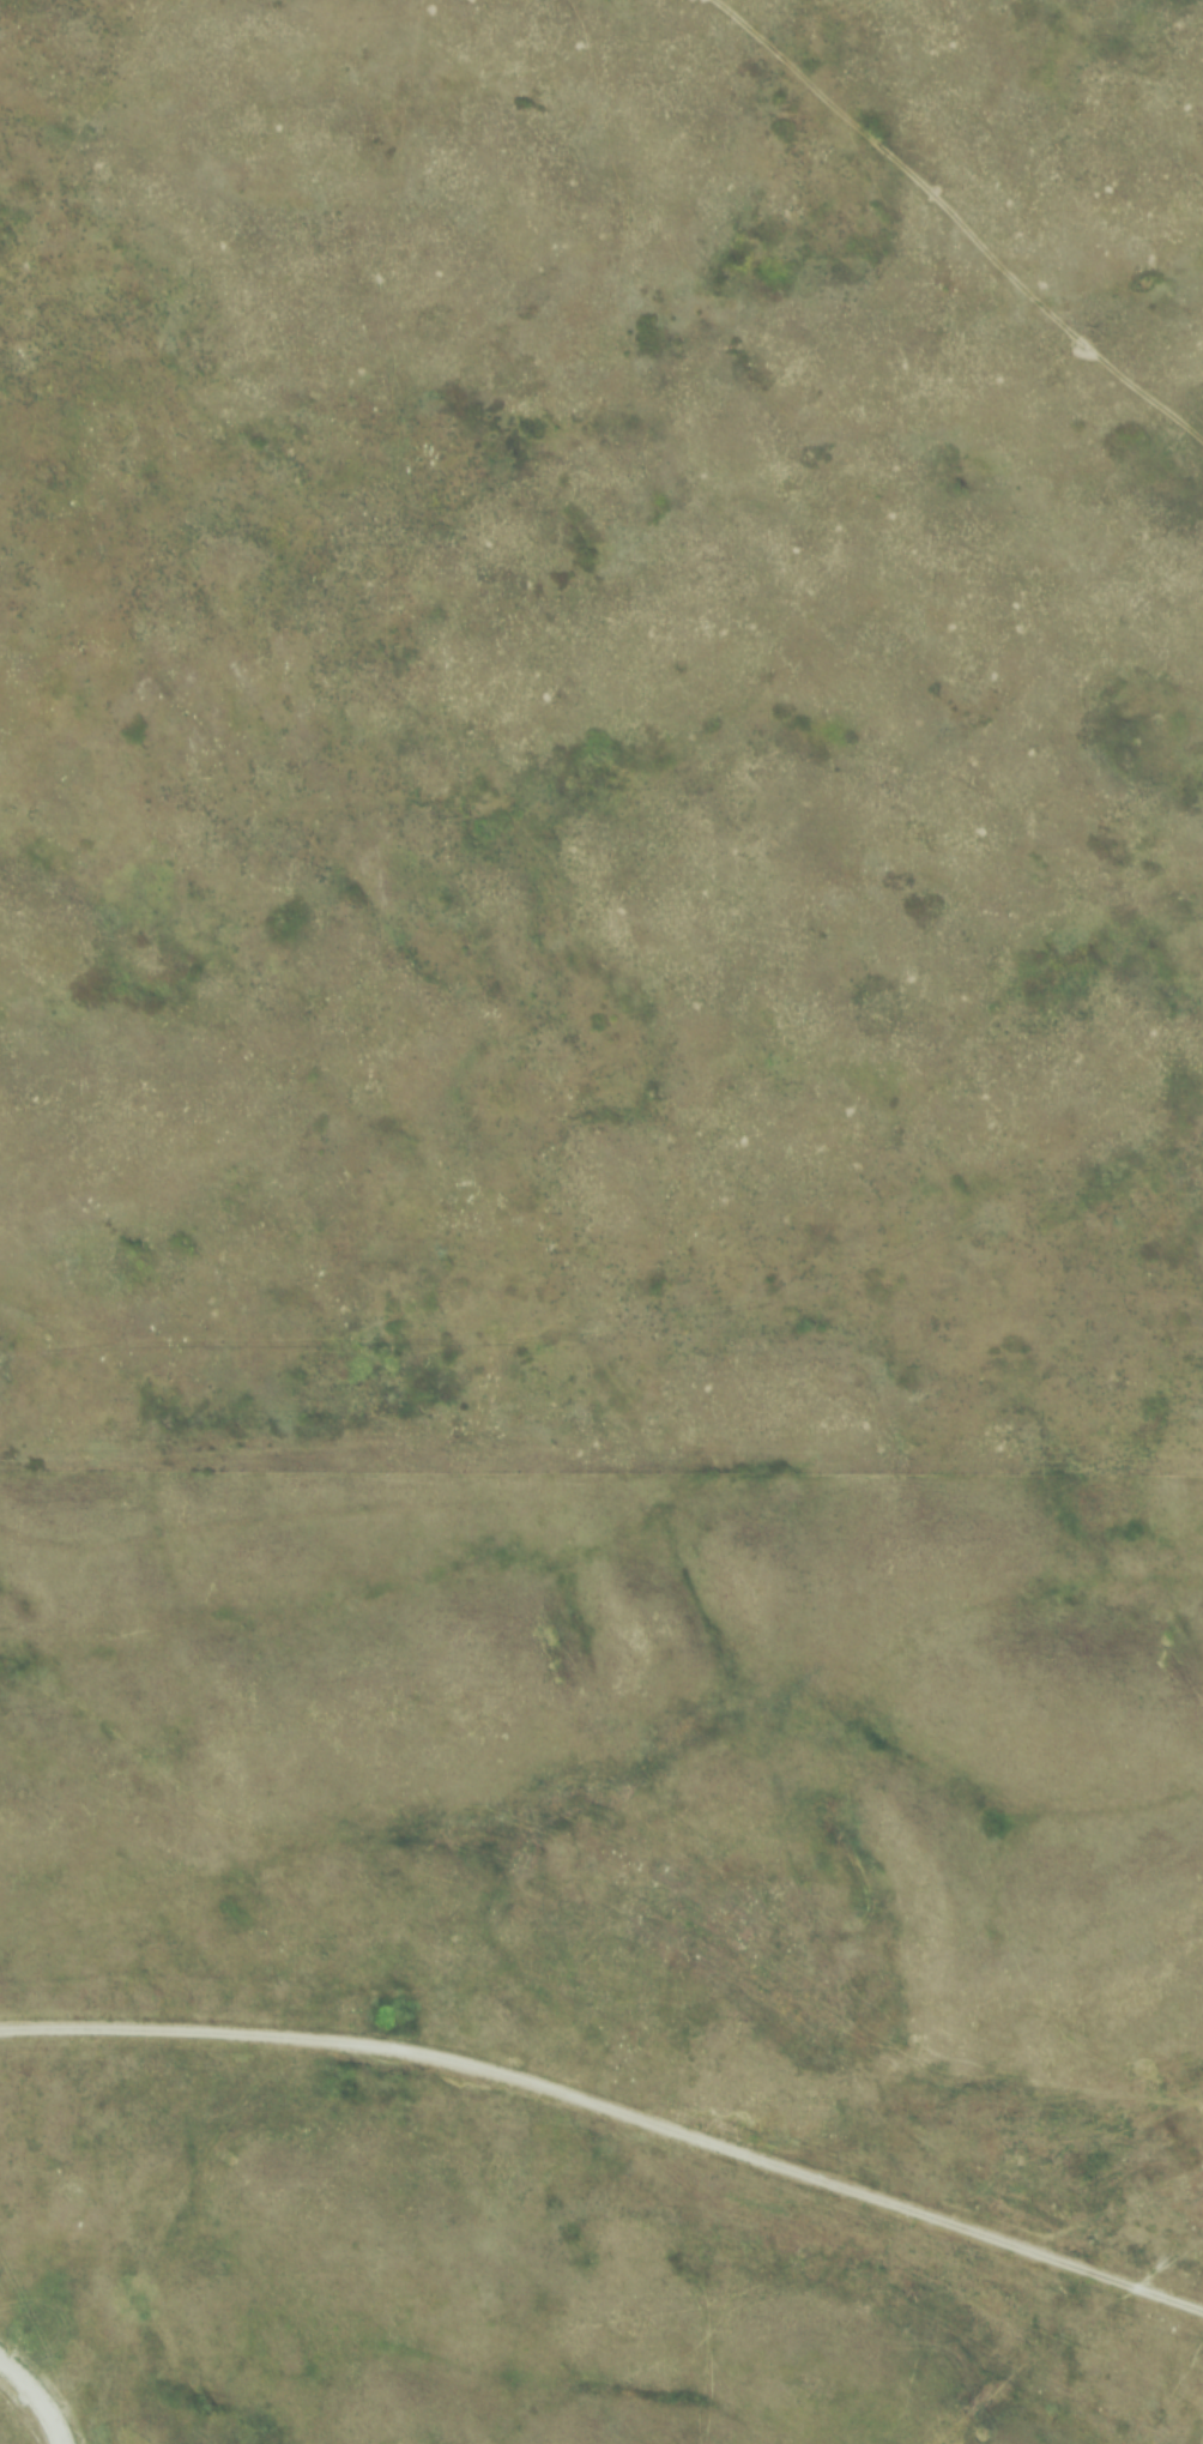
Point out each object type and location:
road: (612, 2125)
road: (20, 2418)

